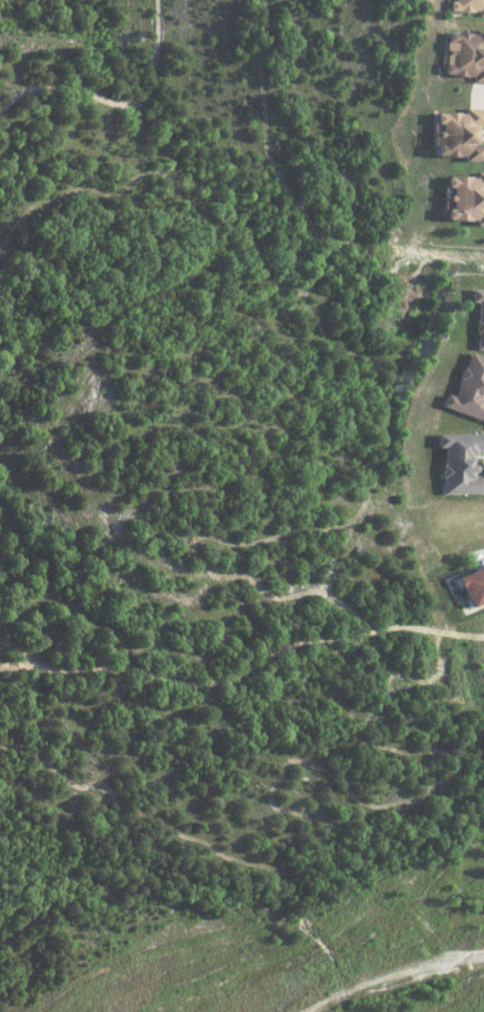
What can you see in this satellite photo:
building: (468, 6)
building: (465, 54)
building: (460, 134)
building: (467, 197)
building: (478, 317)
building: (467, 389)
building: (461, 462)
building: (474, 586)

